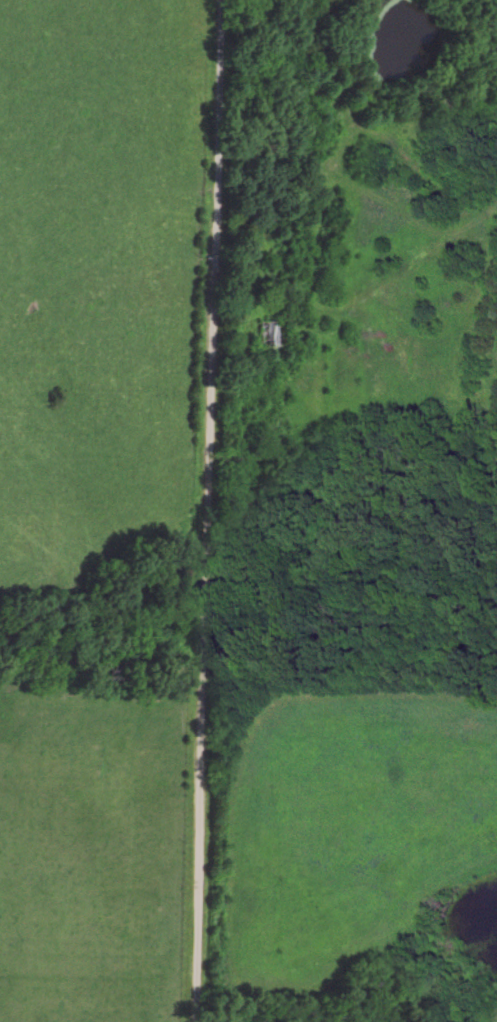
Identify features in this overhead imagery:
building: (270, 333)
road: (206, 510)

